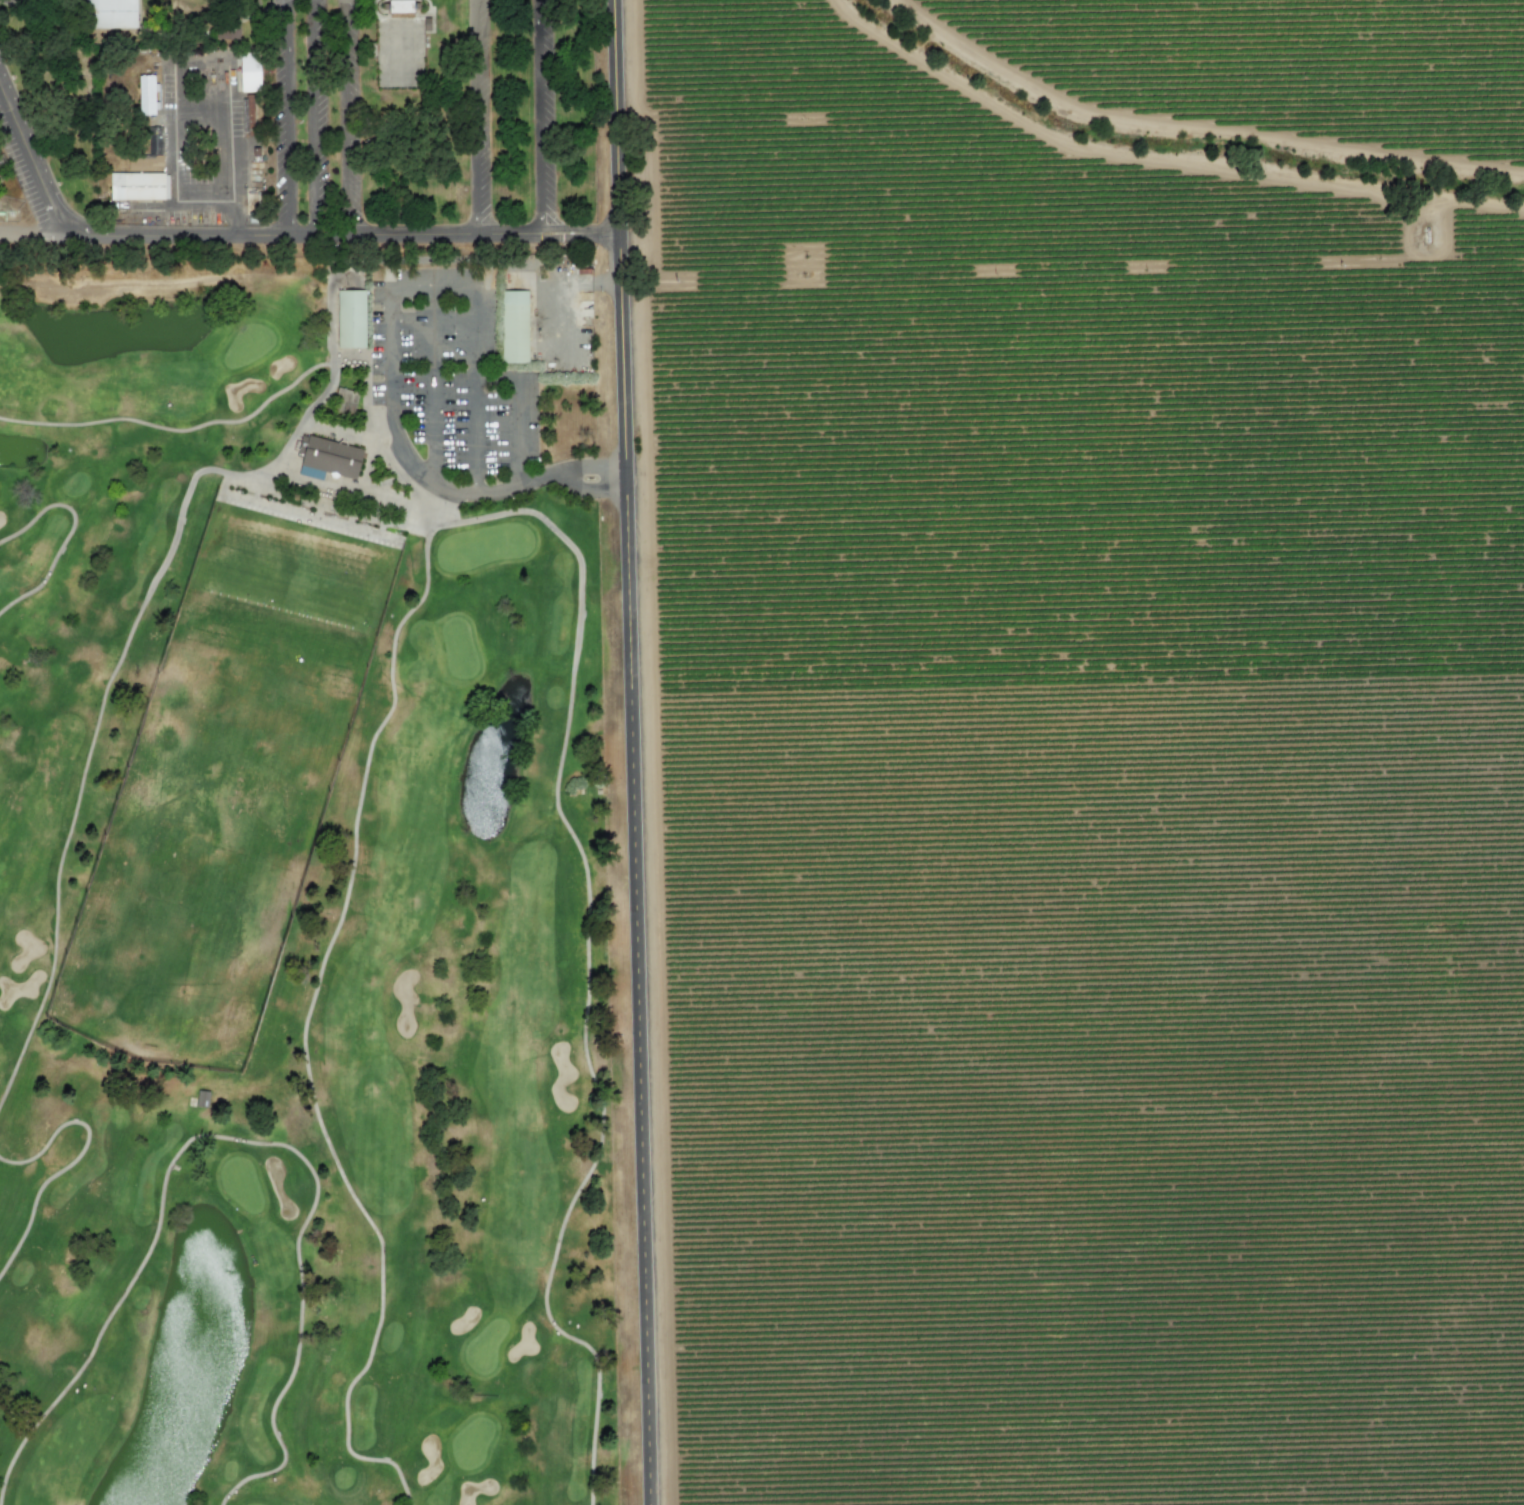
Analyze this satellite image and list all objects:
building: (399, 6)
building: (111, 14)
building: (227, 30)
building: (250, 71)
building: (146, 95)
road: (473, 116)
road: (539, 116)
road: (287, 117)
road: (312, 117)
road: (345, 117)
park: (304, 129)
building: (155, 140)
road: (174, 149)
building: (145, 163)
theme park: (7, 180)
building: (137, 186)
road: (264, 234)
building: (351, 319)
road: (391, 324)
building: (514, 327)
road: (432, 385)
road: (517, 414)
road: (309, 420)
building: (329, 455)
road: (570, 477)
road: (374, 494)
road: (633, 752)
park: (317, 887)
road: (586, 965)
road: (303, 1032)

